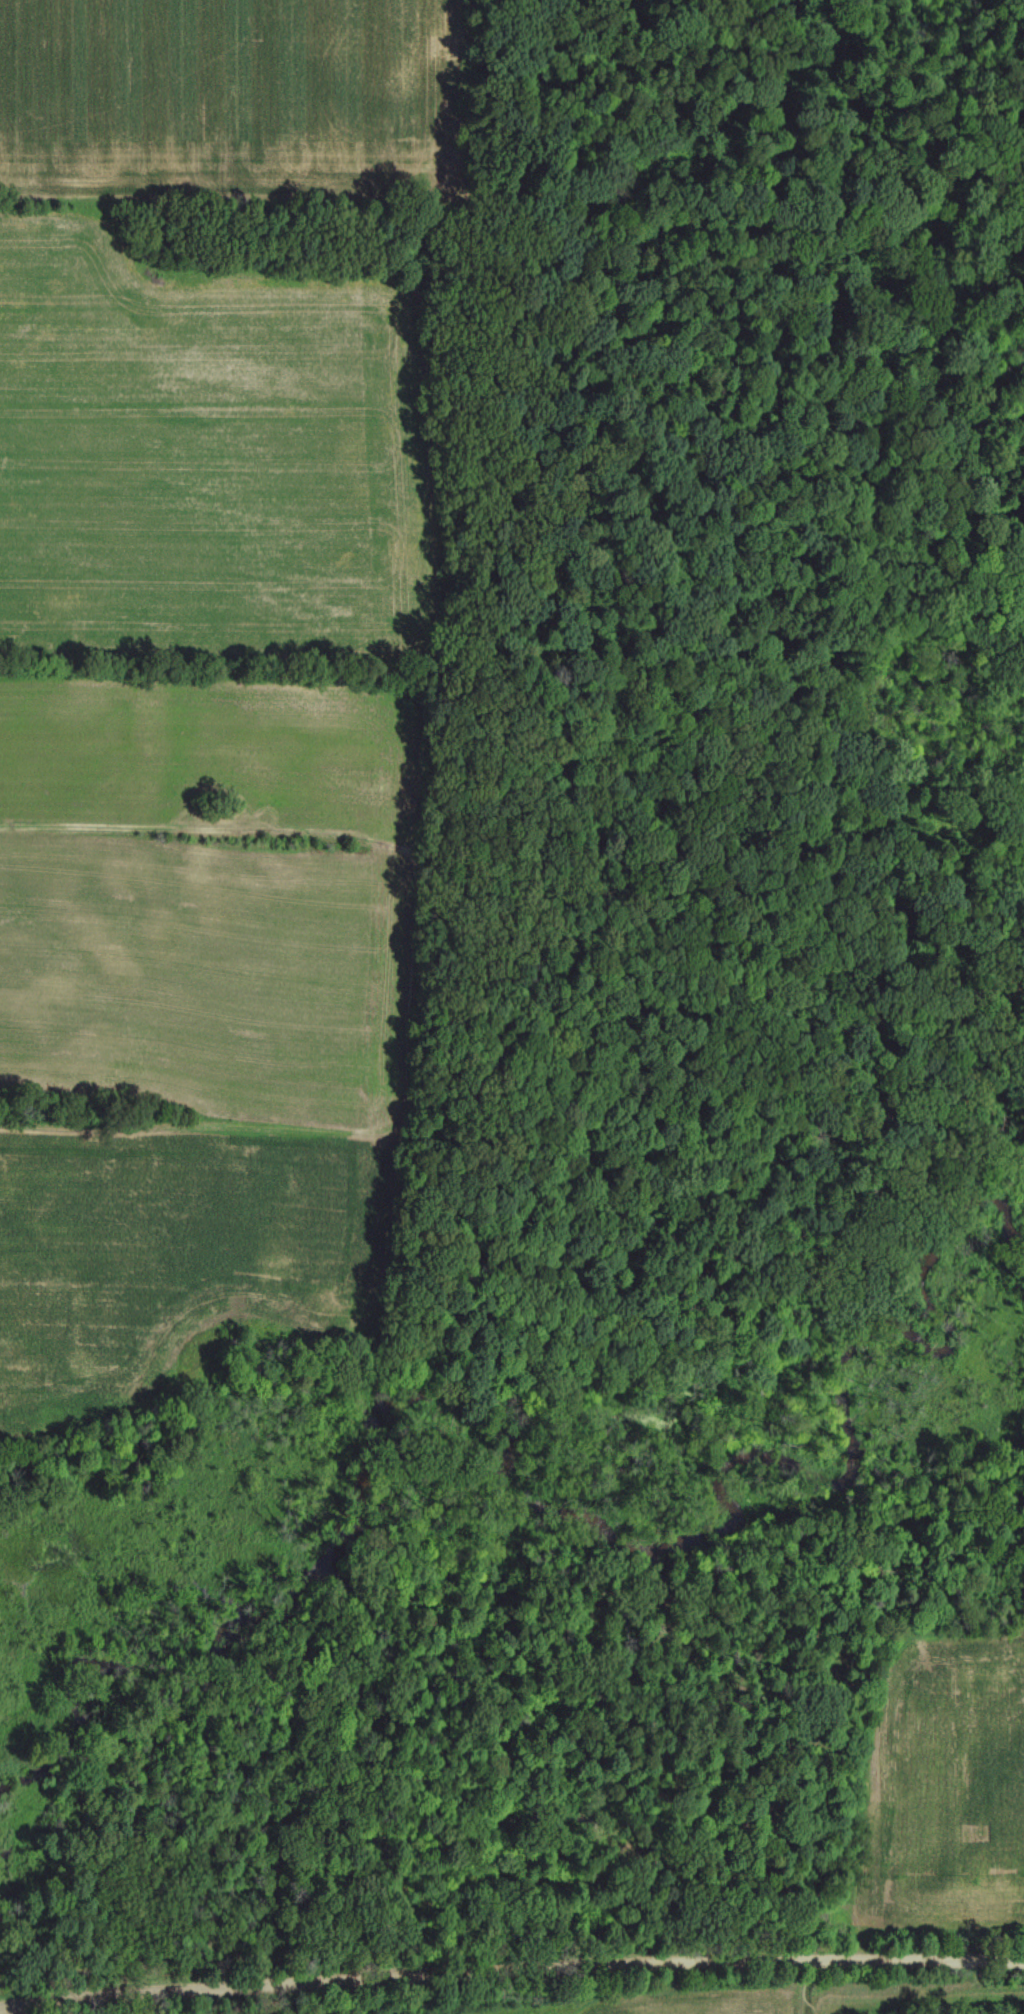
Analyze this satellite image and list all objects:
road: (511, 1971)

